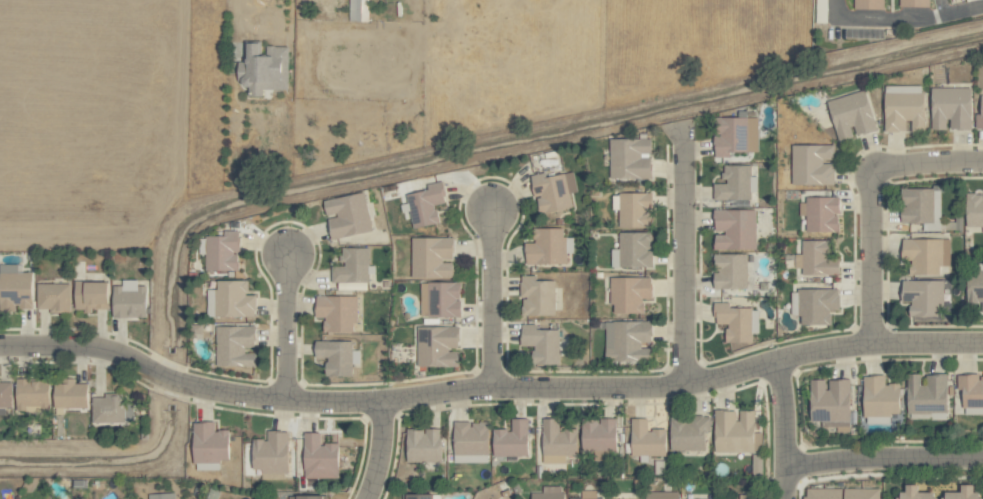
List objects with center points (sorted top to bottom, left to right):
building: (915, 3)
building: (868, 4)
road: (233, 9)
building: (358, 10)
road: (905, 17)
building: (264, 68)
building: (904, 108)
building: (951, 108)
building: (851, 115)
building: (980, 117)
crop: (81, 119)
building: (736, 136)
building: (630, 158)
building: (813, 164)
road: (927, 164)
building: (734, 184)
building: (553, 191)
building: (425, 205)
building: (921, 205)
building: (974, 209)
building: (635, 210)
building: (820, 214)
building: (347, 215)
building: (735, 229)
building: (549, 247)
building: (635, 249)
building: (222, 251)
building: (927, 255)
building: (432, 257)
road: (873, 257)
building: (817, 259)
road: (685, 260)
building: (352, 266)
building: (731, 271)
building: (975, 287)
building: (15, 288)
building: (629, 294)
building: (90, 295)
building: (53, 297)
building: (537, 297)
building: (924, 297)
building: (232, 299)
building: (440, 299)
building: (129, 300)
road: (492, 300)
building: (817, 305)
building: (337, 312)
building: (737, 322)
road: (288, 328)
building: (627, 340)
building: (542, 343)
building: (235, 346)
building: (437, 347)
building: (336, 356)
road: (488, 389)
building: (971, 391)
building: (32, 393)
building: (70, 394)
building: (927, 394)
building: (5, 395)
building: (881, 397)
building: (831, 402)
building: (111, 409)
road: (786, 429)
building: (734, 431)
building: (689, 433)
building: (471, 438)
building: (599, 438)
building: (647, 439)
building: (511, 440)
building: (558, 440)
building: (210, 445)
building: (424, 445)
road: (381, 451)
building: (271, 453)
building: (320, 458)
road: (884, 458)
crop: (843, 486)
building: (842, 493)
building: (916, 493)
building: (964, 493)
building: (549, 494)
building: (588, 495)
building: (661, 495)
building: (162, 496)
building: (418, 496)
building: (306, 497)
building: (746, 497)

